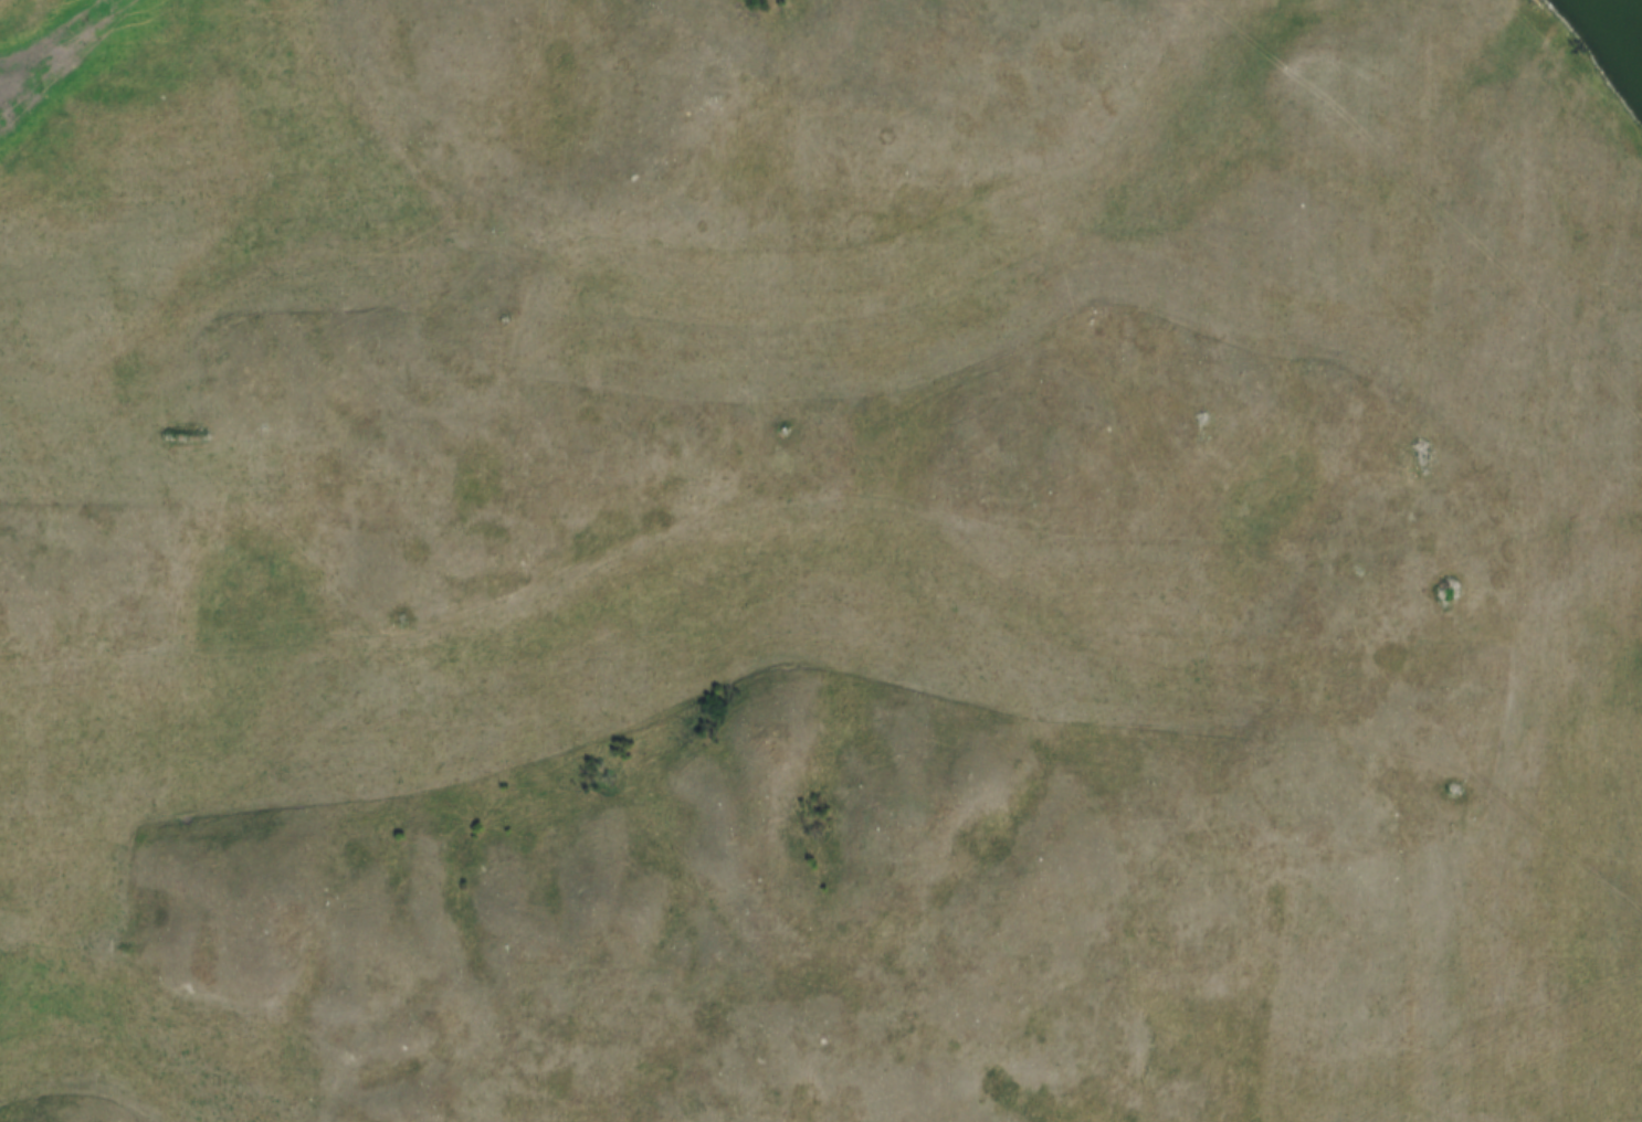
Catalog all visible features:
road: (1535, 23)

